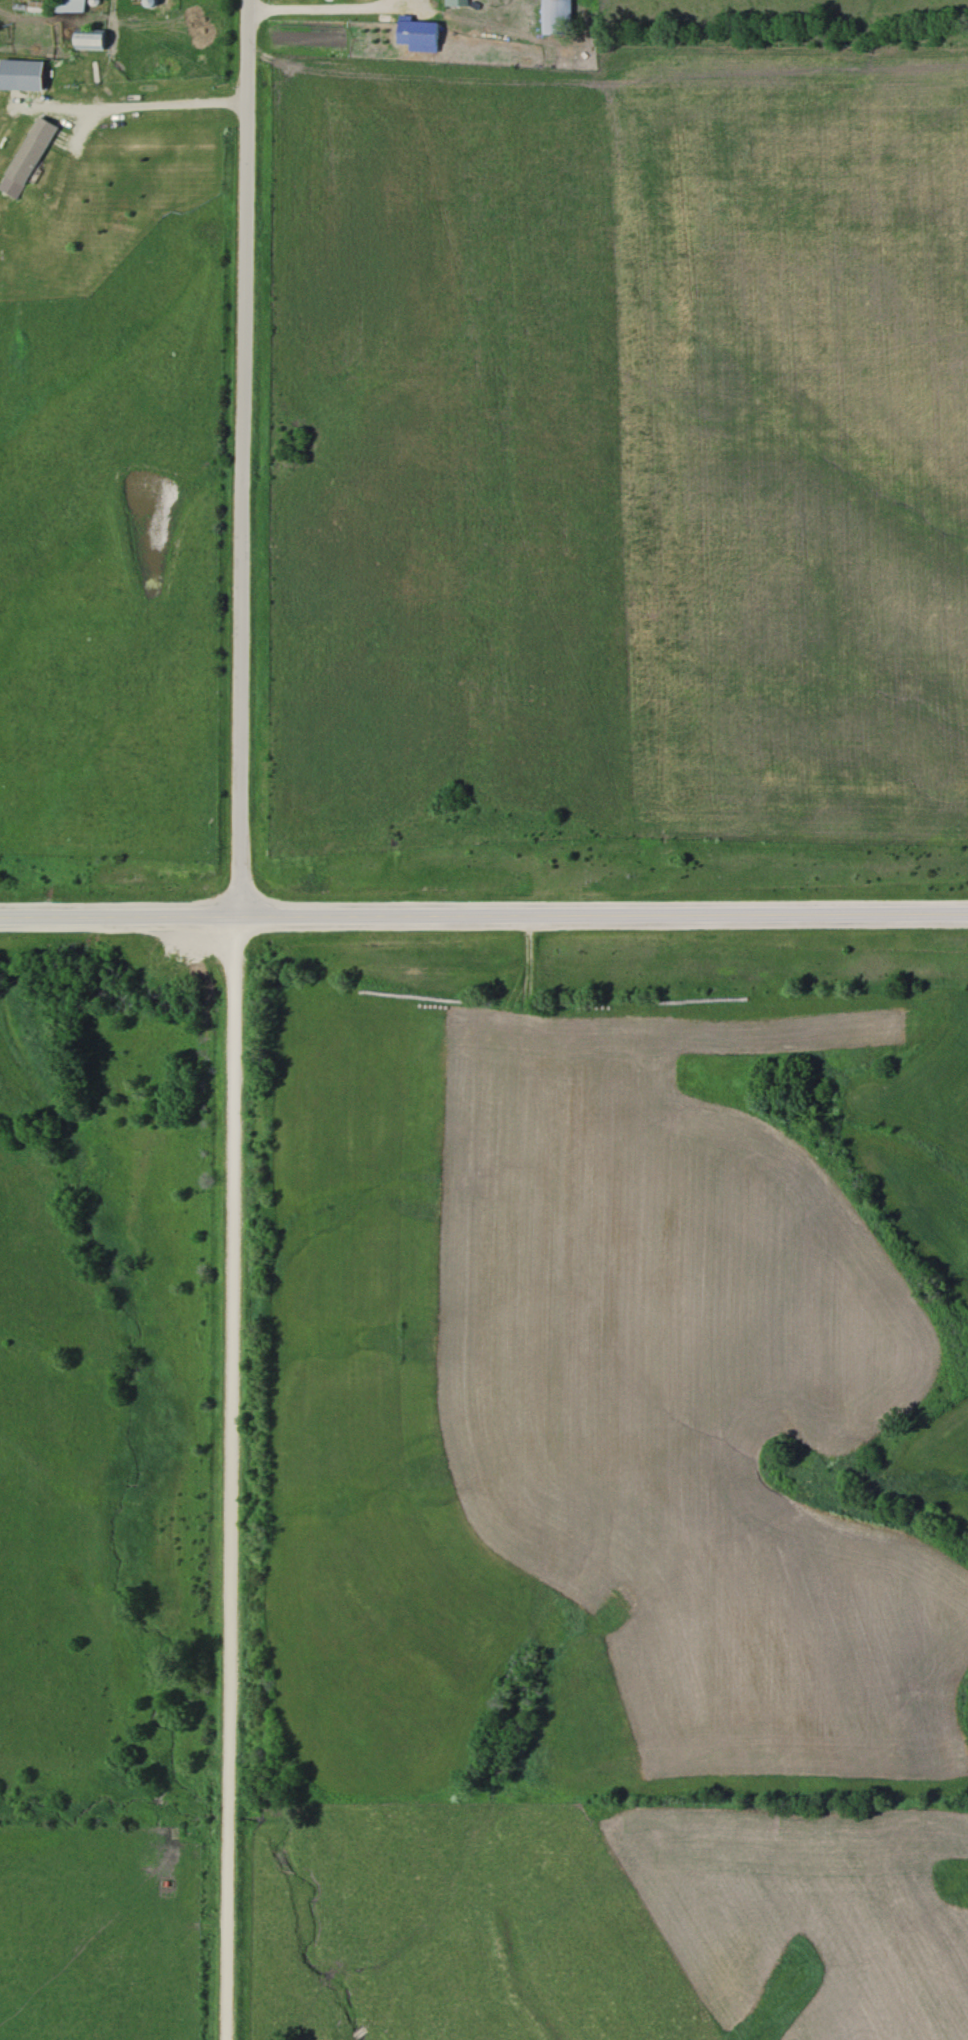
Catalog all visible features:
building: (145, 3)
building: (49, 6)
road: (316, 7)
building: (552, 17)
building: (84, 39)
road: (483, 915)
road: (234, 1019)

